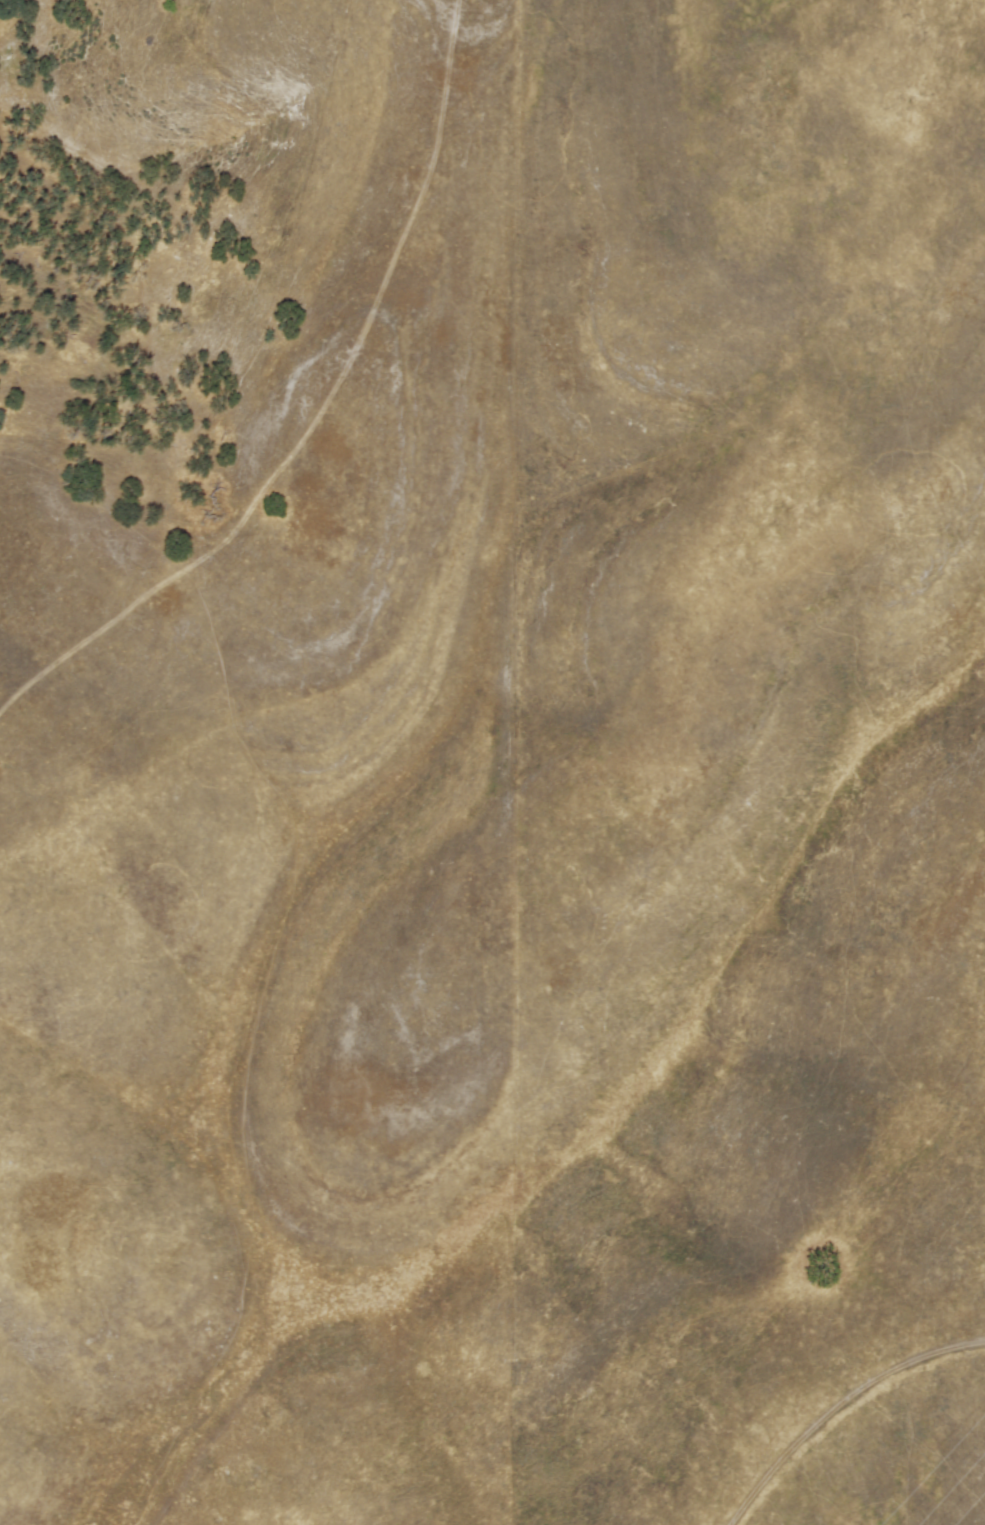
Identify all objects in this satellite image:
road: (836, 1402)

